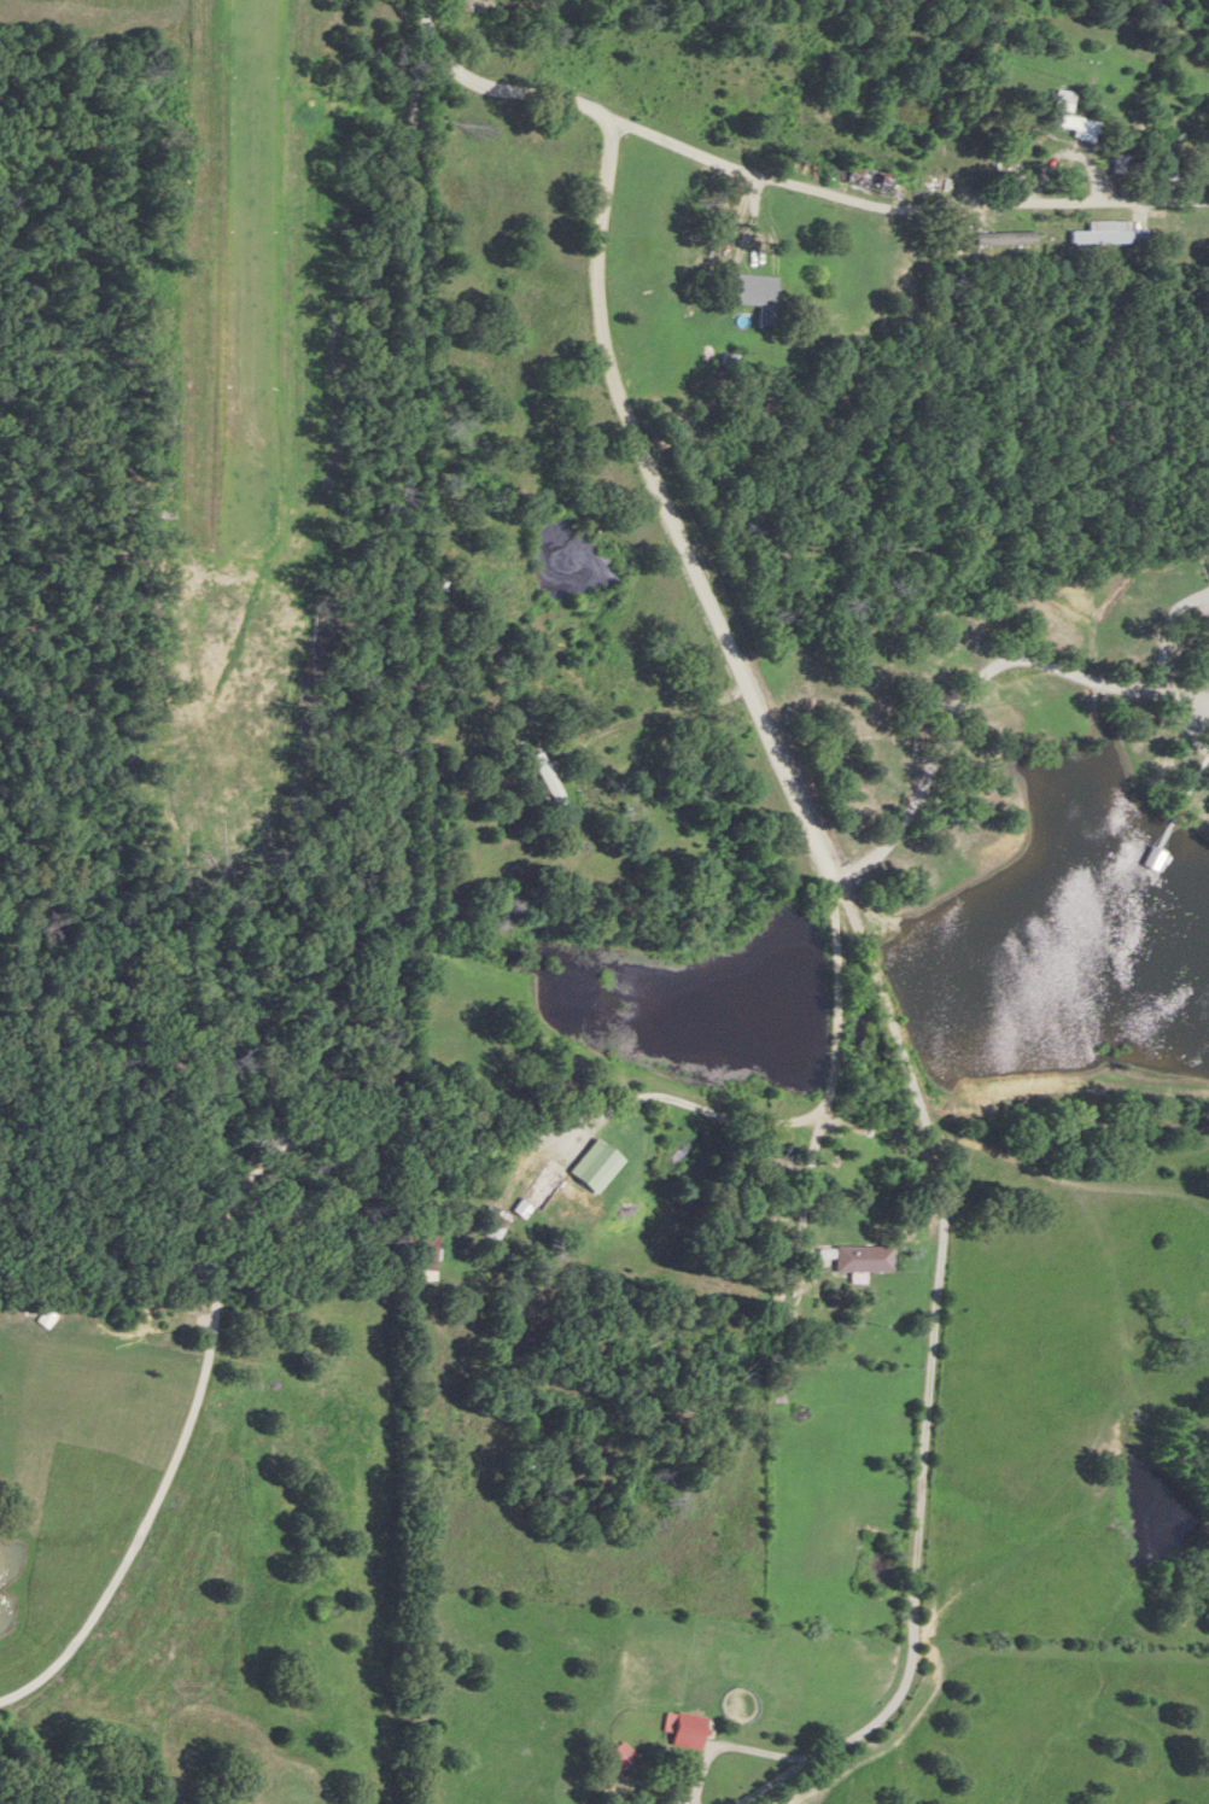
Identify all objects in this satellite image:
road: (498, 84)
building: (1059, 117)
road: (906, 204)
building: (1098, 233)
building: (757, 296)
road: (410, 542)
road: (726, 640)
road: (992, 666)
road: (629, 723)
building: (545, 780)
road: (1064, 1075)
road: (831, 1099)
road: (945, 1145)
road: (1067, 1183)
road: (807, 1186)
building: (539, 1190)
building: (491, 1222)
building: (428, 1254)
building: (859, 1259)
road: (201, 1368)
road: (923, 1482)
building: (685, 1732)
road: (772, 1755)
building: (620, 1758)

